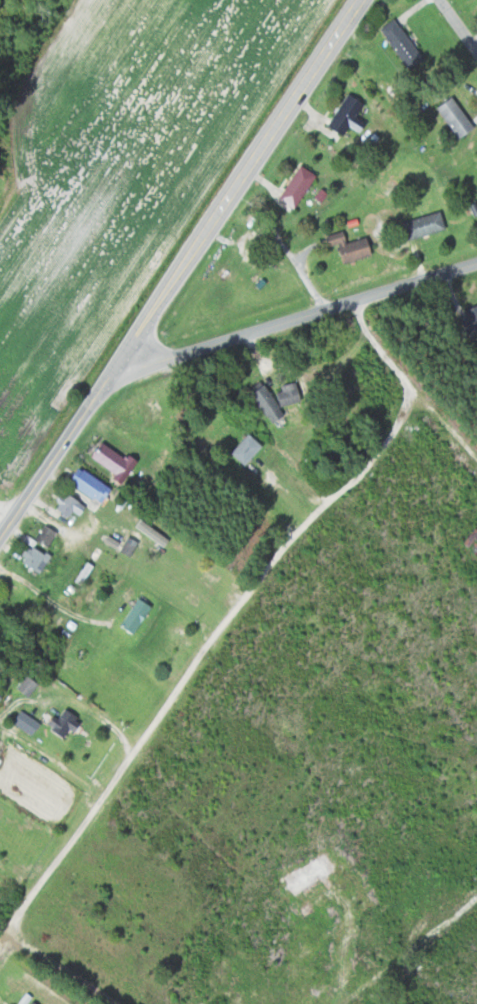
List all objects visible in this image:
road: (457, 25)
building: (402, 43)
building: (349, 117)
building: (456, 118)
building: (298, 187)
building: (425, 226)
building: (351, 247)
road: (180, 268)
road: (295, 316)
building: (470, 320)
building: (276, 400)
building: (247, 449)
building: (114, 460)
building: (91, 485)
building: (70, 505)
road: (6, 513)
building: (47, 535)
building: (34, 557)
building: (135, 616)
road: (229, 619)
building: (28, 686)
building: (27, 723)
building: (63, 724)
building: (3, 901)

